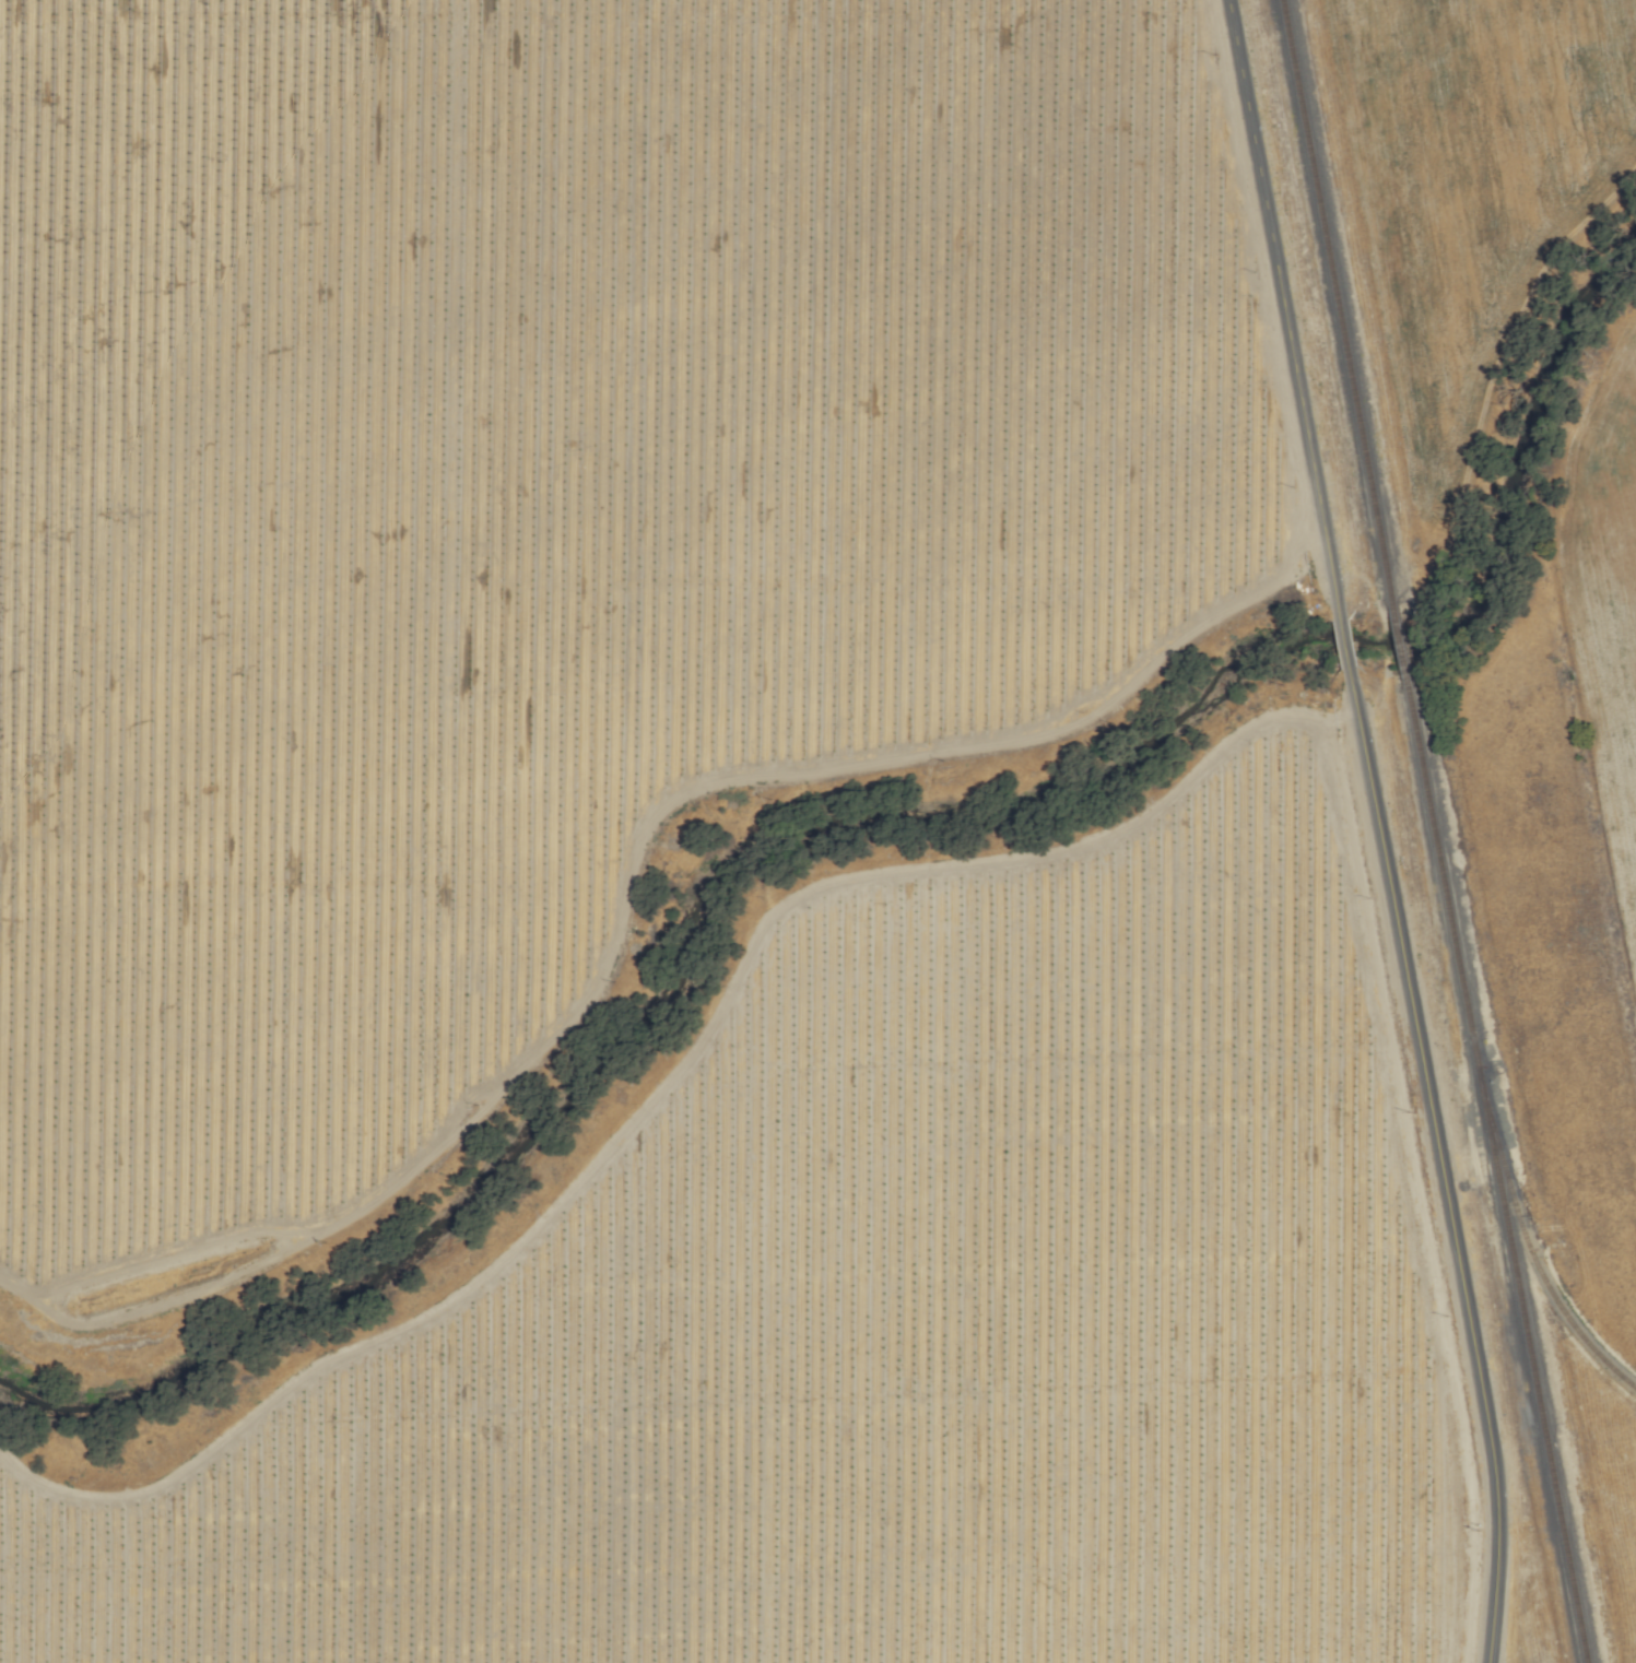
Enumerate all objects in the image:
railway: (1335, 302)
road: (1281, 307)
road: (1343, 641)
railway: (1399, 646)
road: (623, 885)
road: (1438, 1165)
railway: (1495, 1175)
railway: (1523, 1235)

